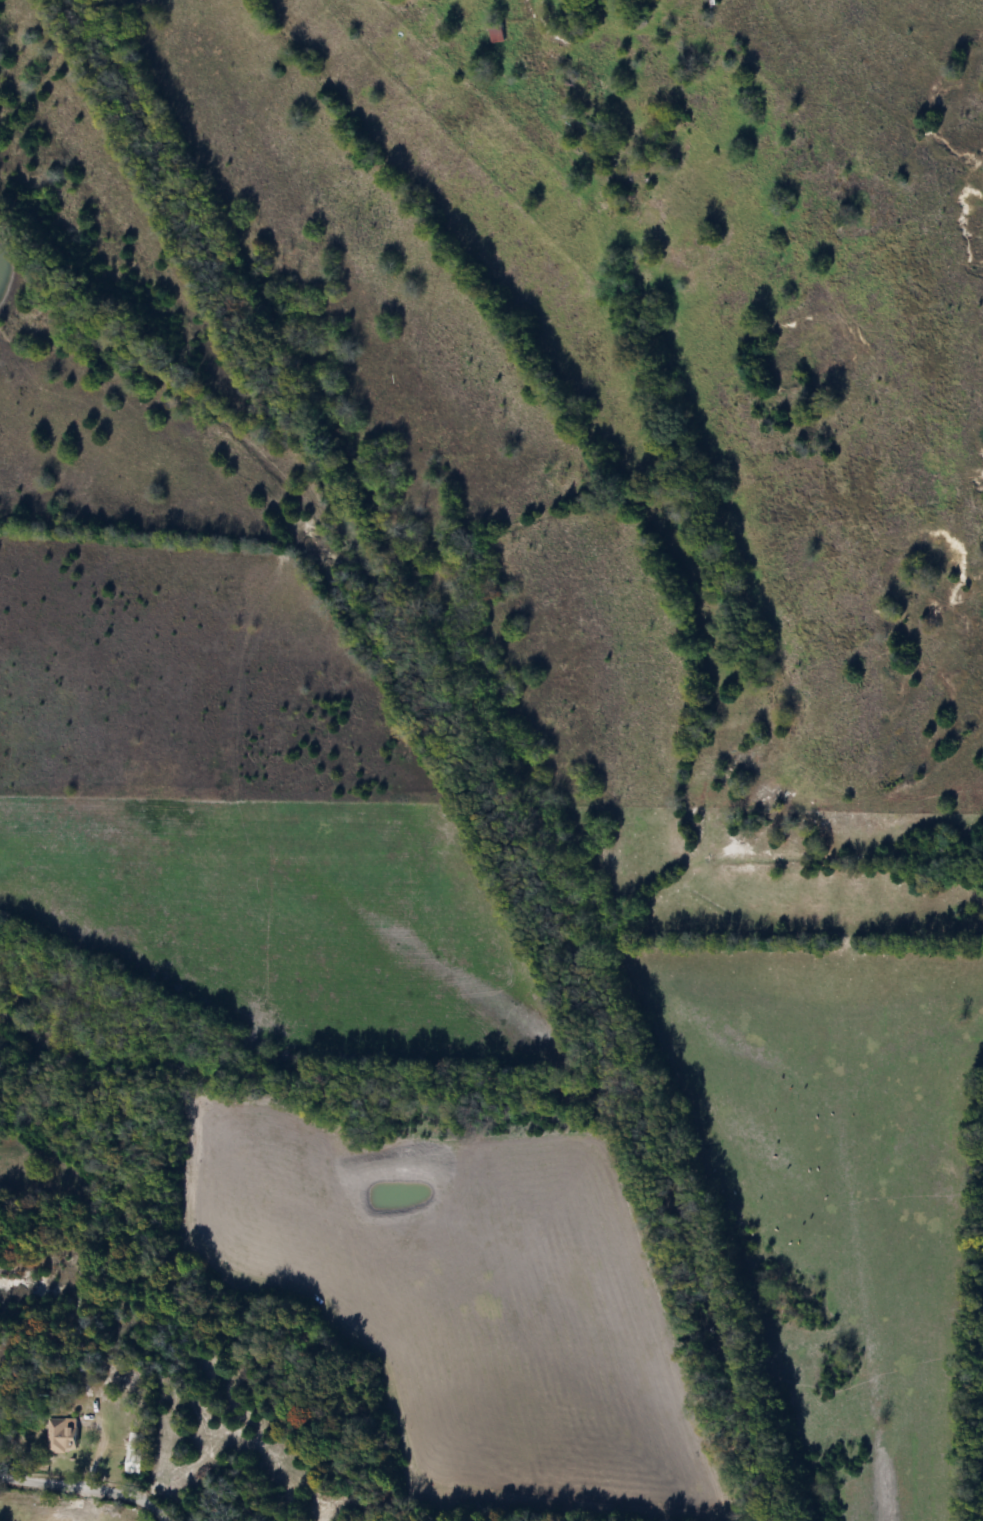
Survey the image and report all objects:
building: (61, 1435)
road: (88, 1488)

